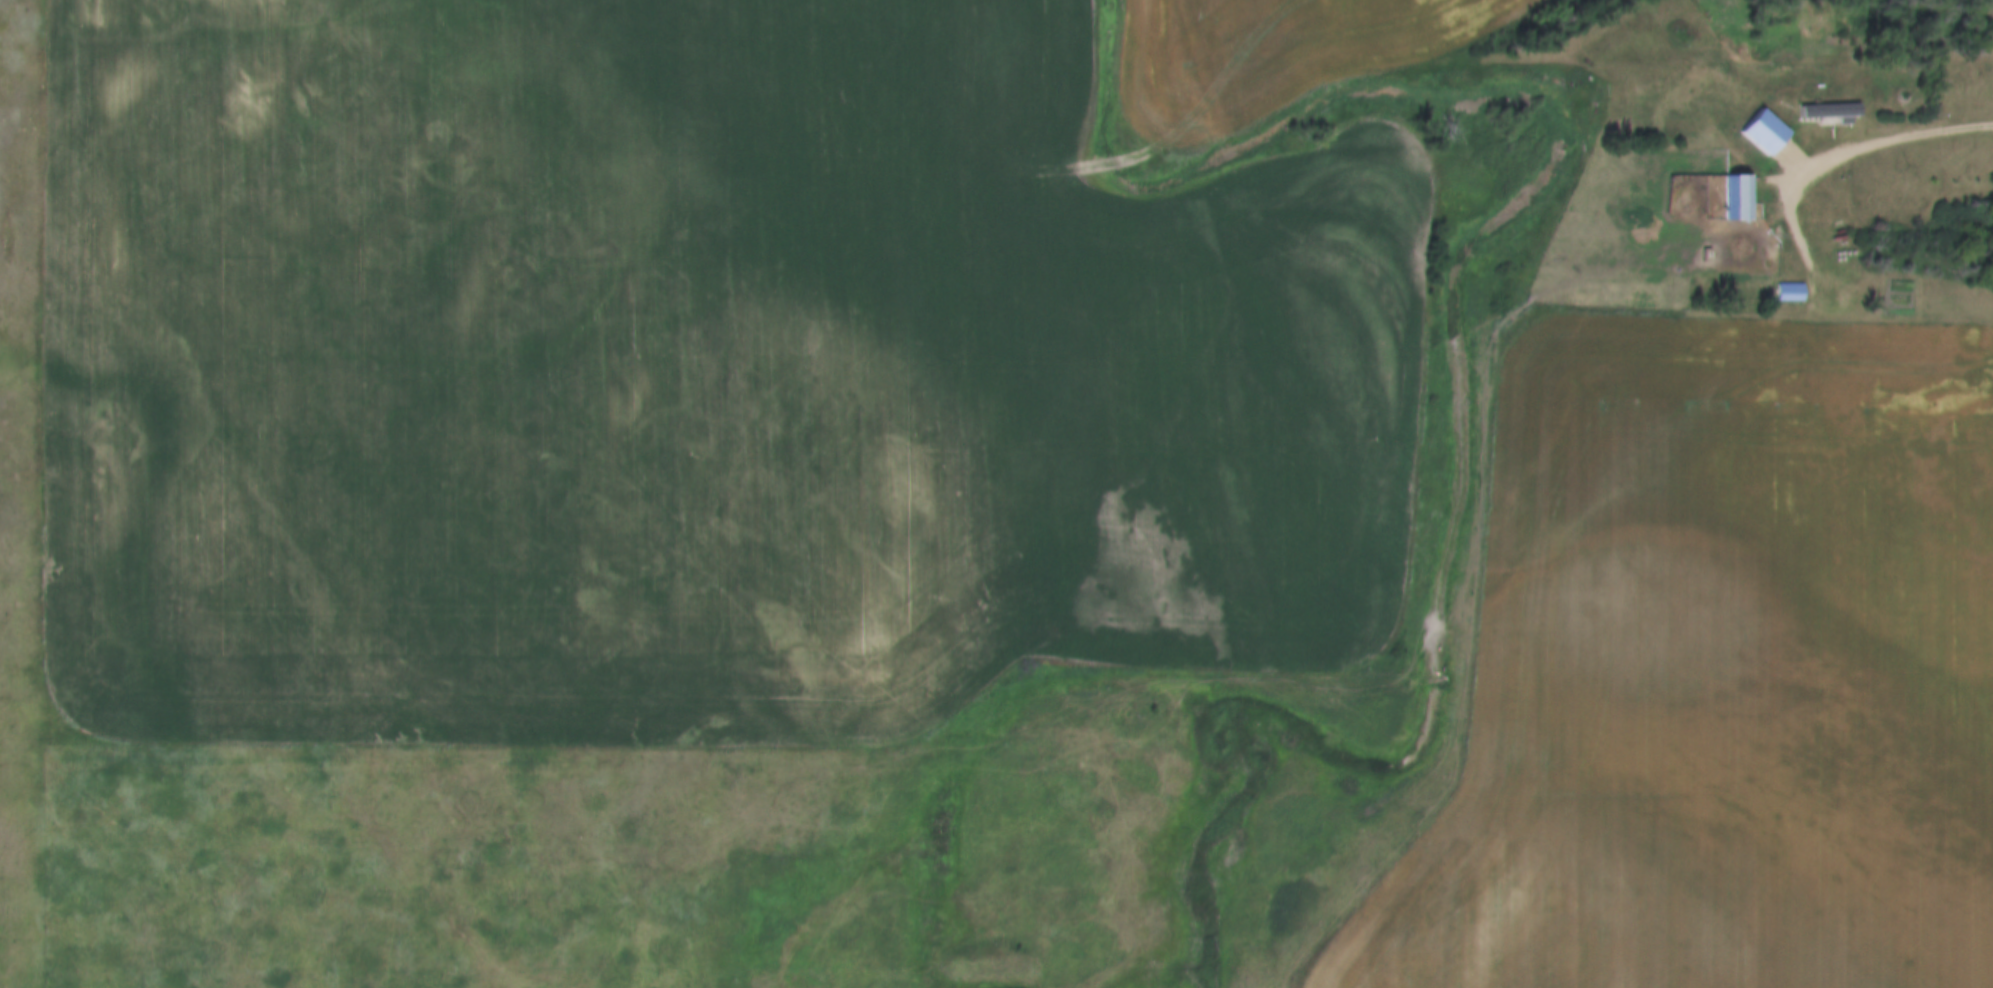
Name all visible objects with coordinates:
building: (1831, 113)
building: (1763, 133)
road: (1888, 136)
building: (1738, 200)
building: (1791, 294)

